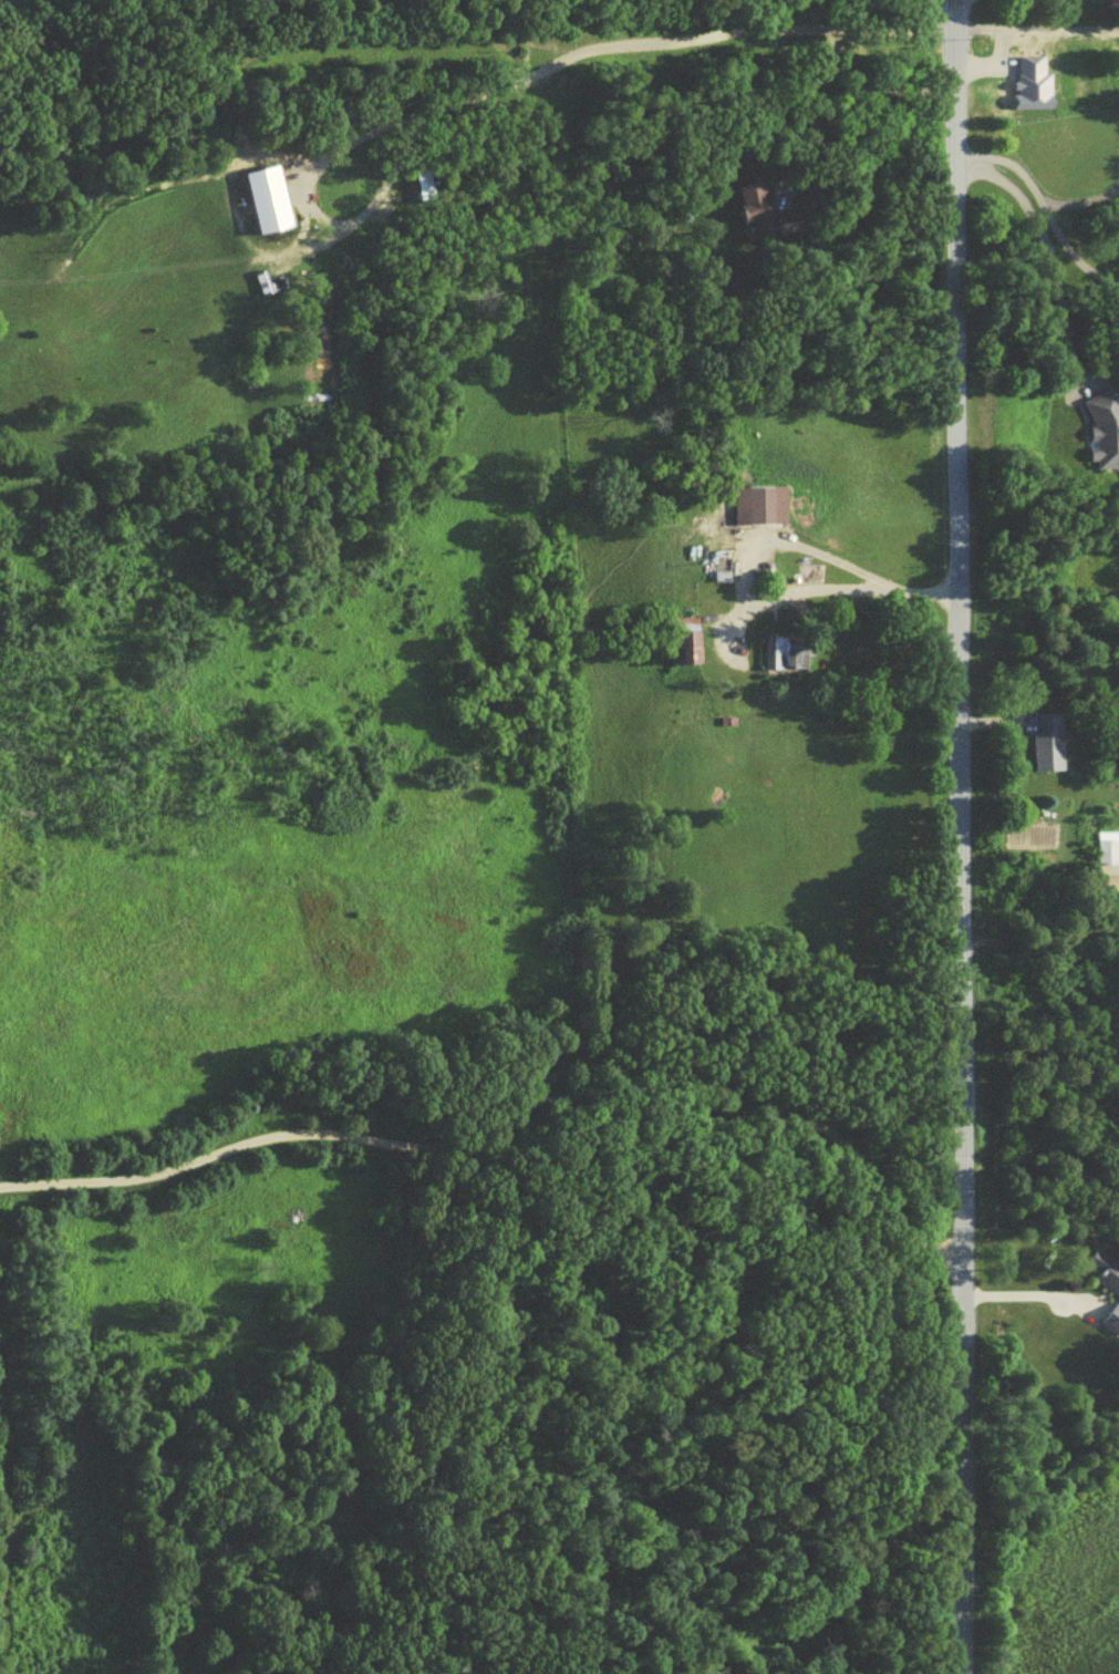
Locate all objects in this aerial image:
road: (738, 30)
road: (849, 112)
road: (422, 114)
road: (1079, 200)
road: (1044, 209)
building: (758, 215)
road: (1045, 254)
building: (1105, 435)
building: (756, 510)
road: (752, 597)
building: (692, 644)
building: (787, 658)
building: (1048, 747)
road: (961, 836)
building: (1109, 856)
road: (525, 1113)
building: (1105, 1289)
road: (1027, 1299)

